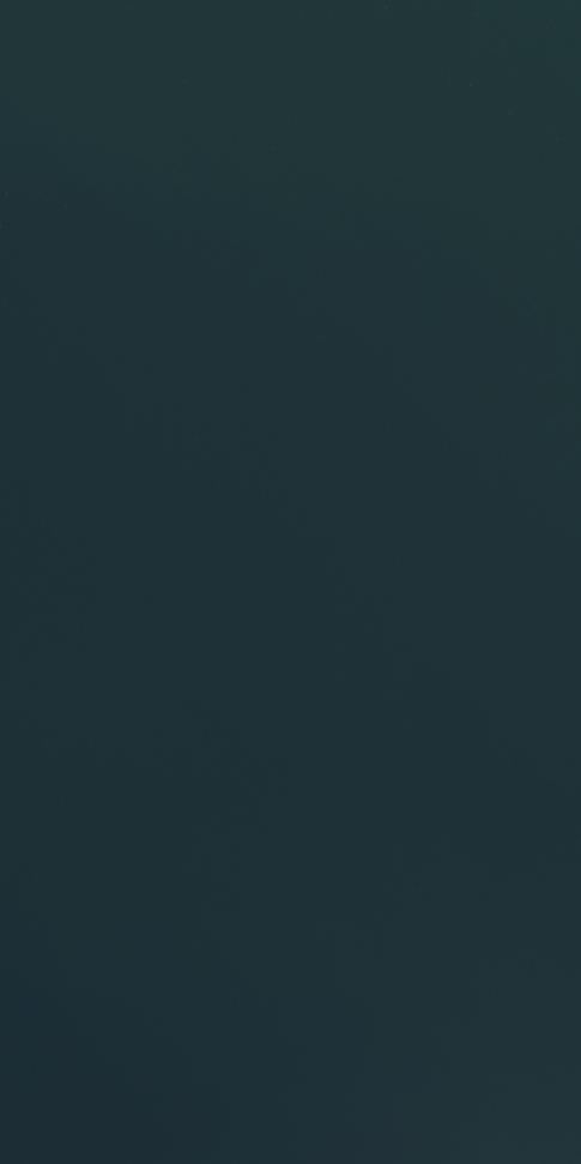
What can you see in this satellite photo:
river: (302, 971)

